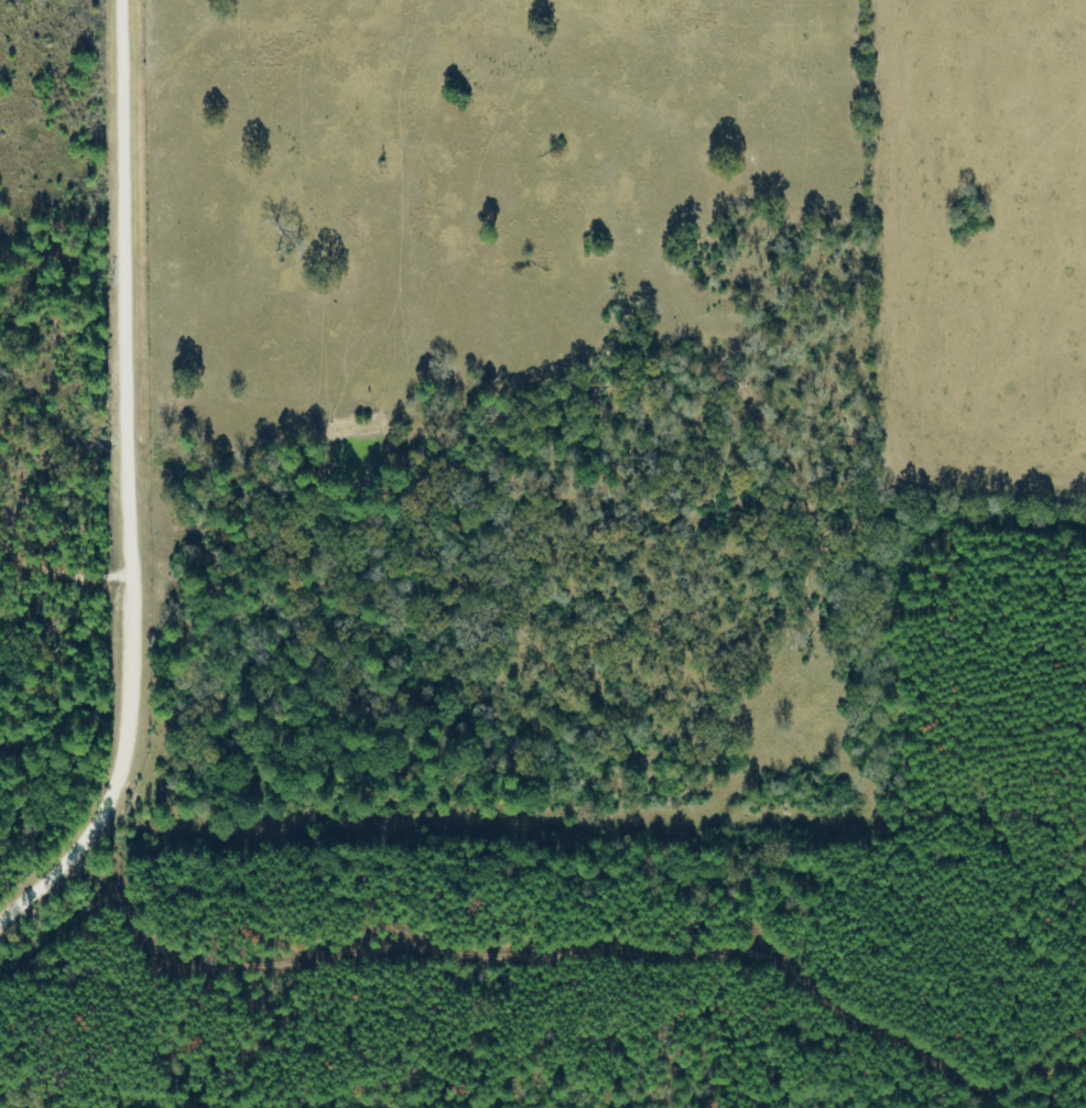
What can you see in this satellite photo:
road: (128, 478)

